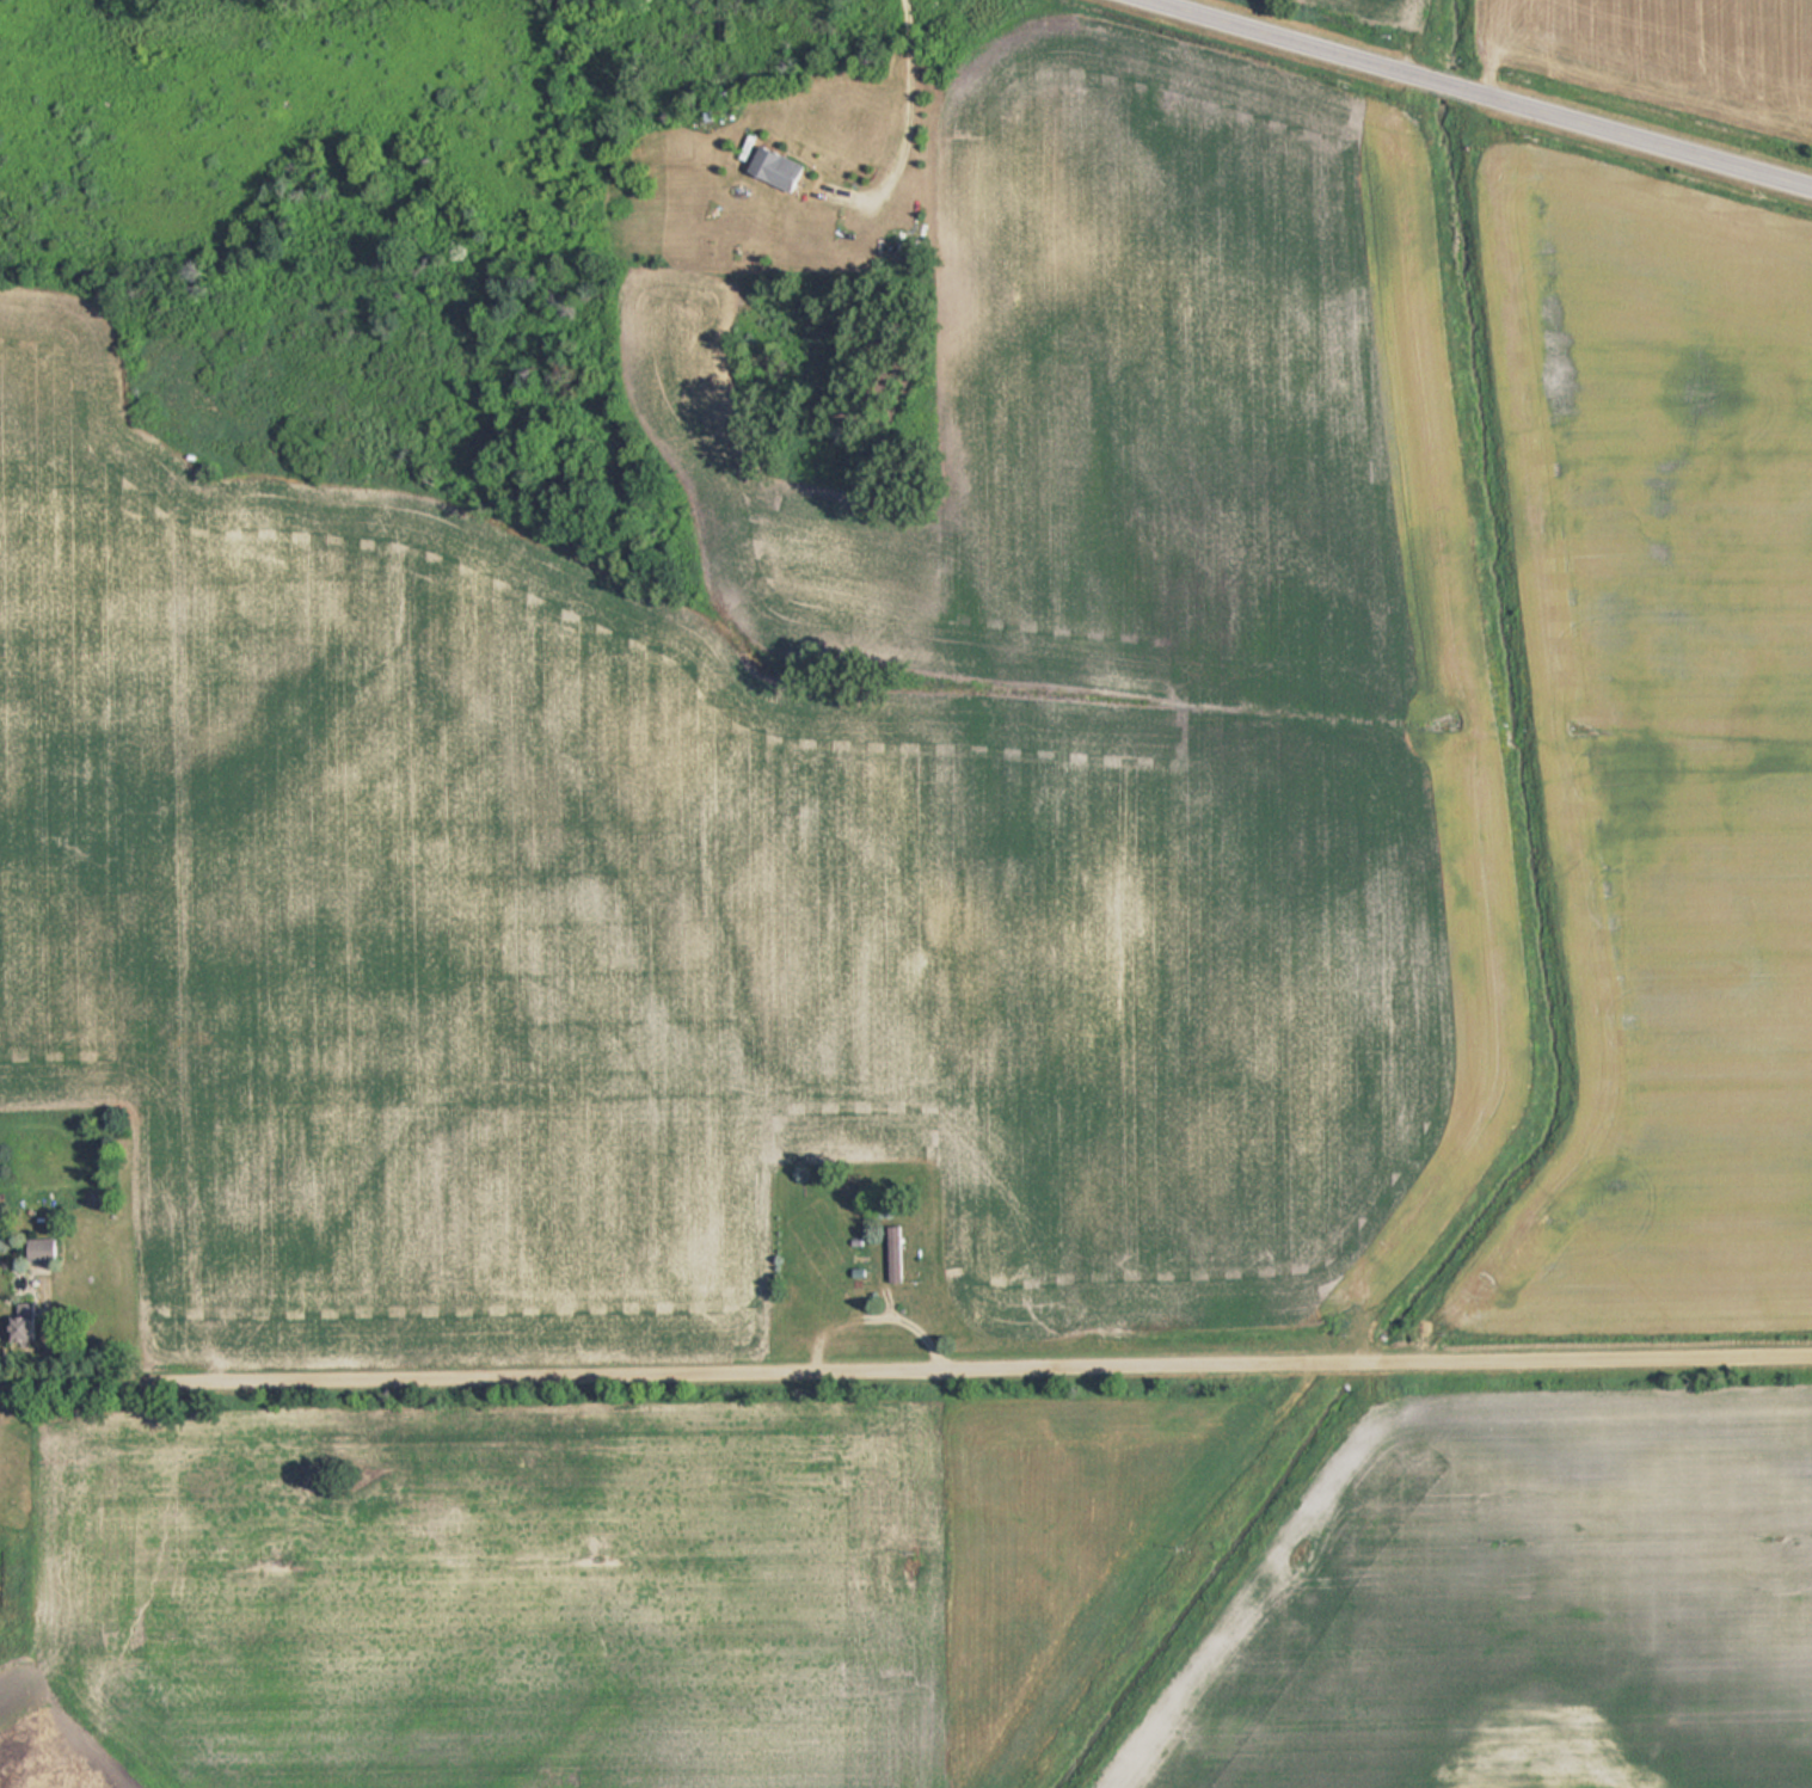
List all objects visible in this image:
road: (1470, 97)
building: (782, 166)
building: (44, 1251)
building: (899, 1253)
building: (26, 1332)
road: (905, 1372)

